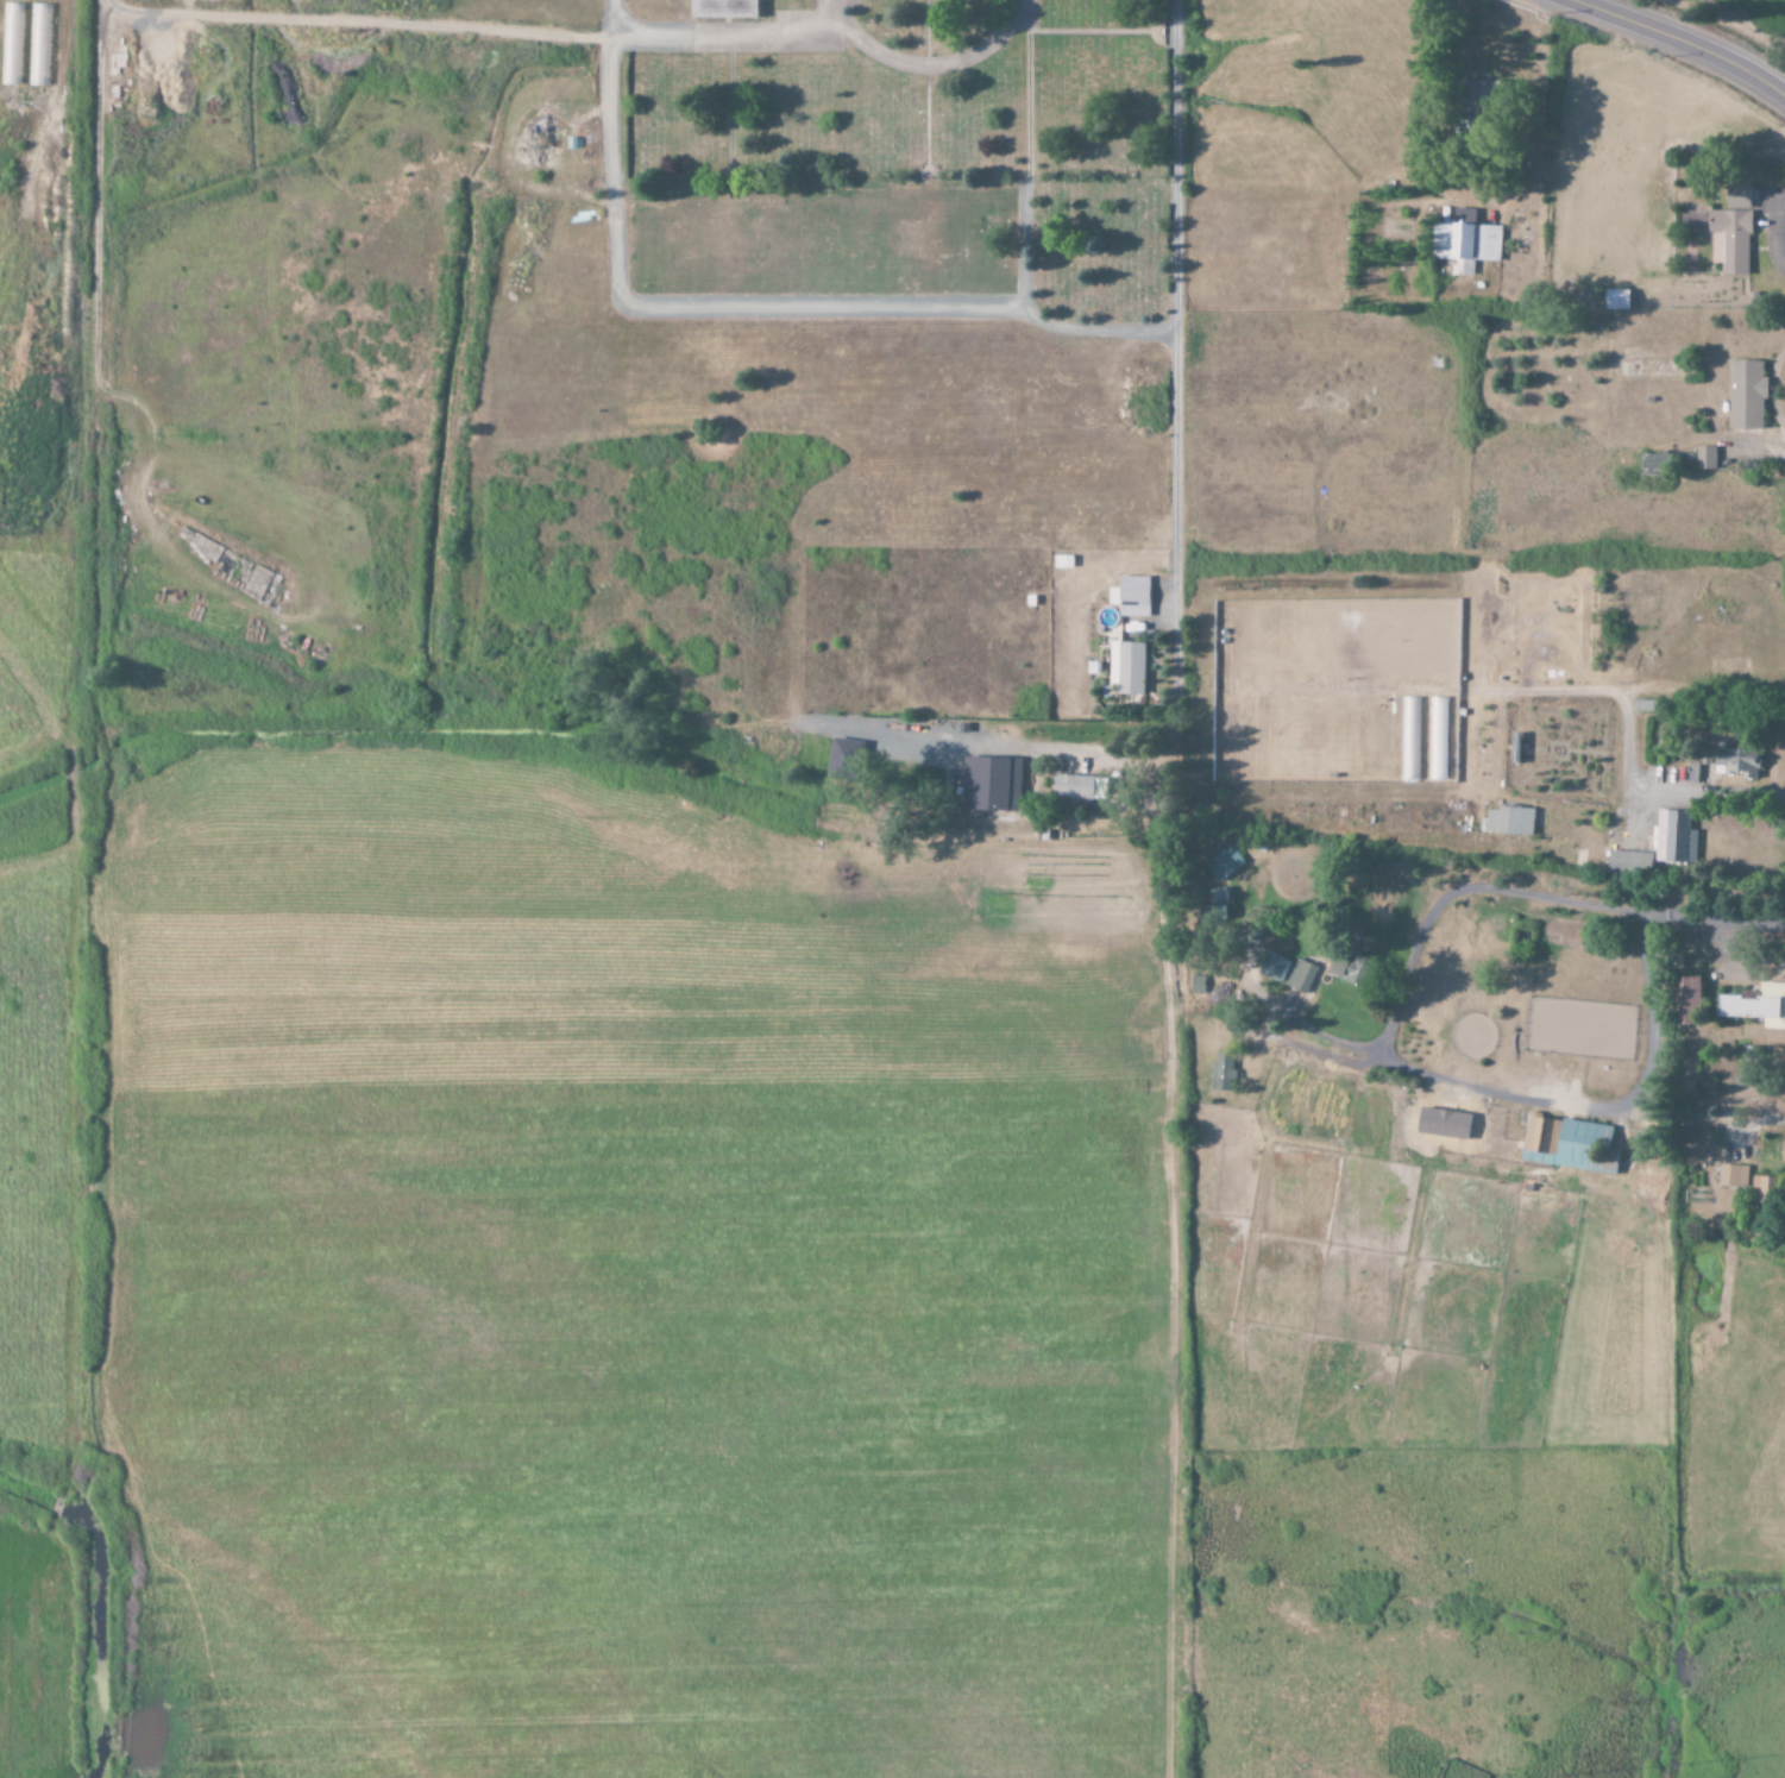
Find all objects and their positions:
building: (760, 0)
building: (722, 10)
road: (723, 42)
road: (1683, 42)
road: (925, 70)
building: (289, 99)
park: (932, 124)
building: (1730, 233)
building: (1464, 239)
building: (1615, 300)
road: (665, 304)
road: (1093, 325)
road: (1175, 357)
building: (1745, 394)
building: (1704, 457)
building: (1130, 596)
building: (1125, 666)
building: (1409, 739)
building: (1734, 762)
building: (989, 783)
building: (1673, 837)
building: (1223, 862)
building: (1628, 862)
building: (1347, 967)
building: (1272, 968)
building: (1300, 976)
building: (1685, 1000)
building: (1755, 1005)
building: (1220, 1072)
building: (1685, 1086)
building: (1428, 1123)
building: (1567, 1144)
building: (1781, 1151)
building: (1731, 1176)
crop: (534, 1218)

